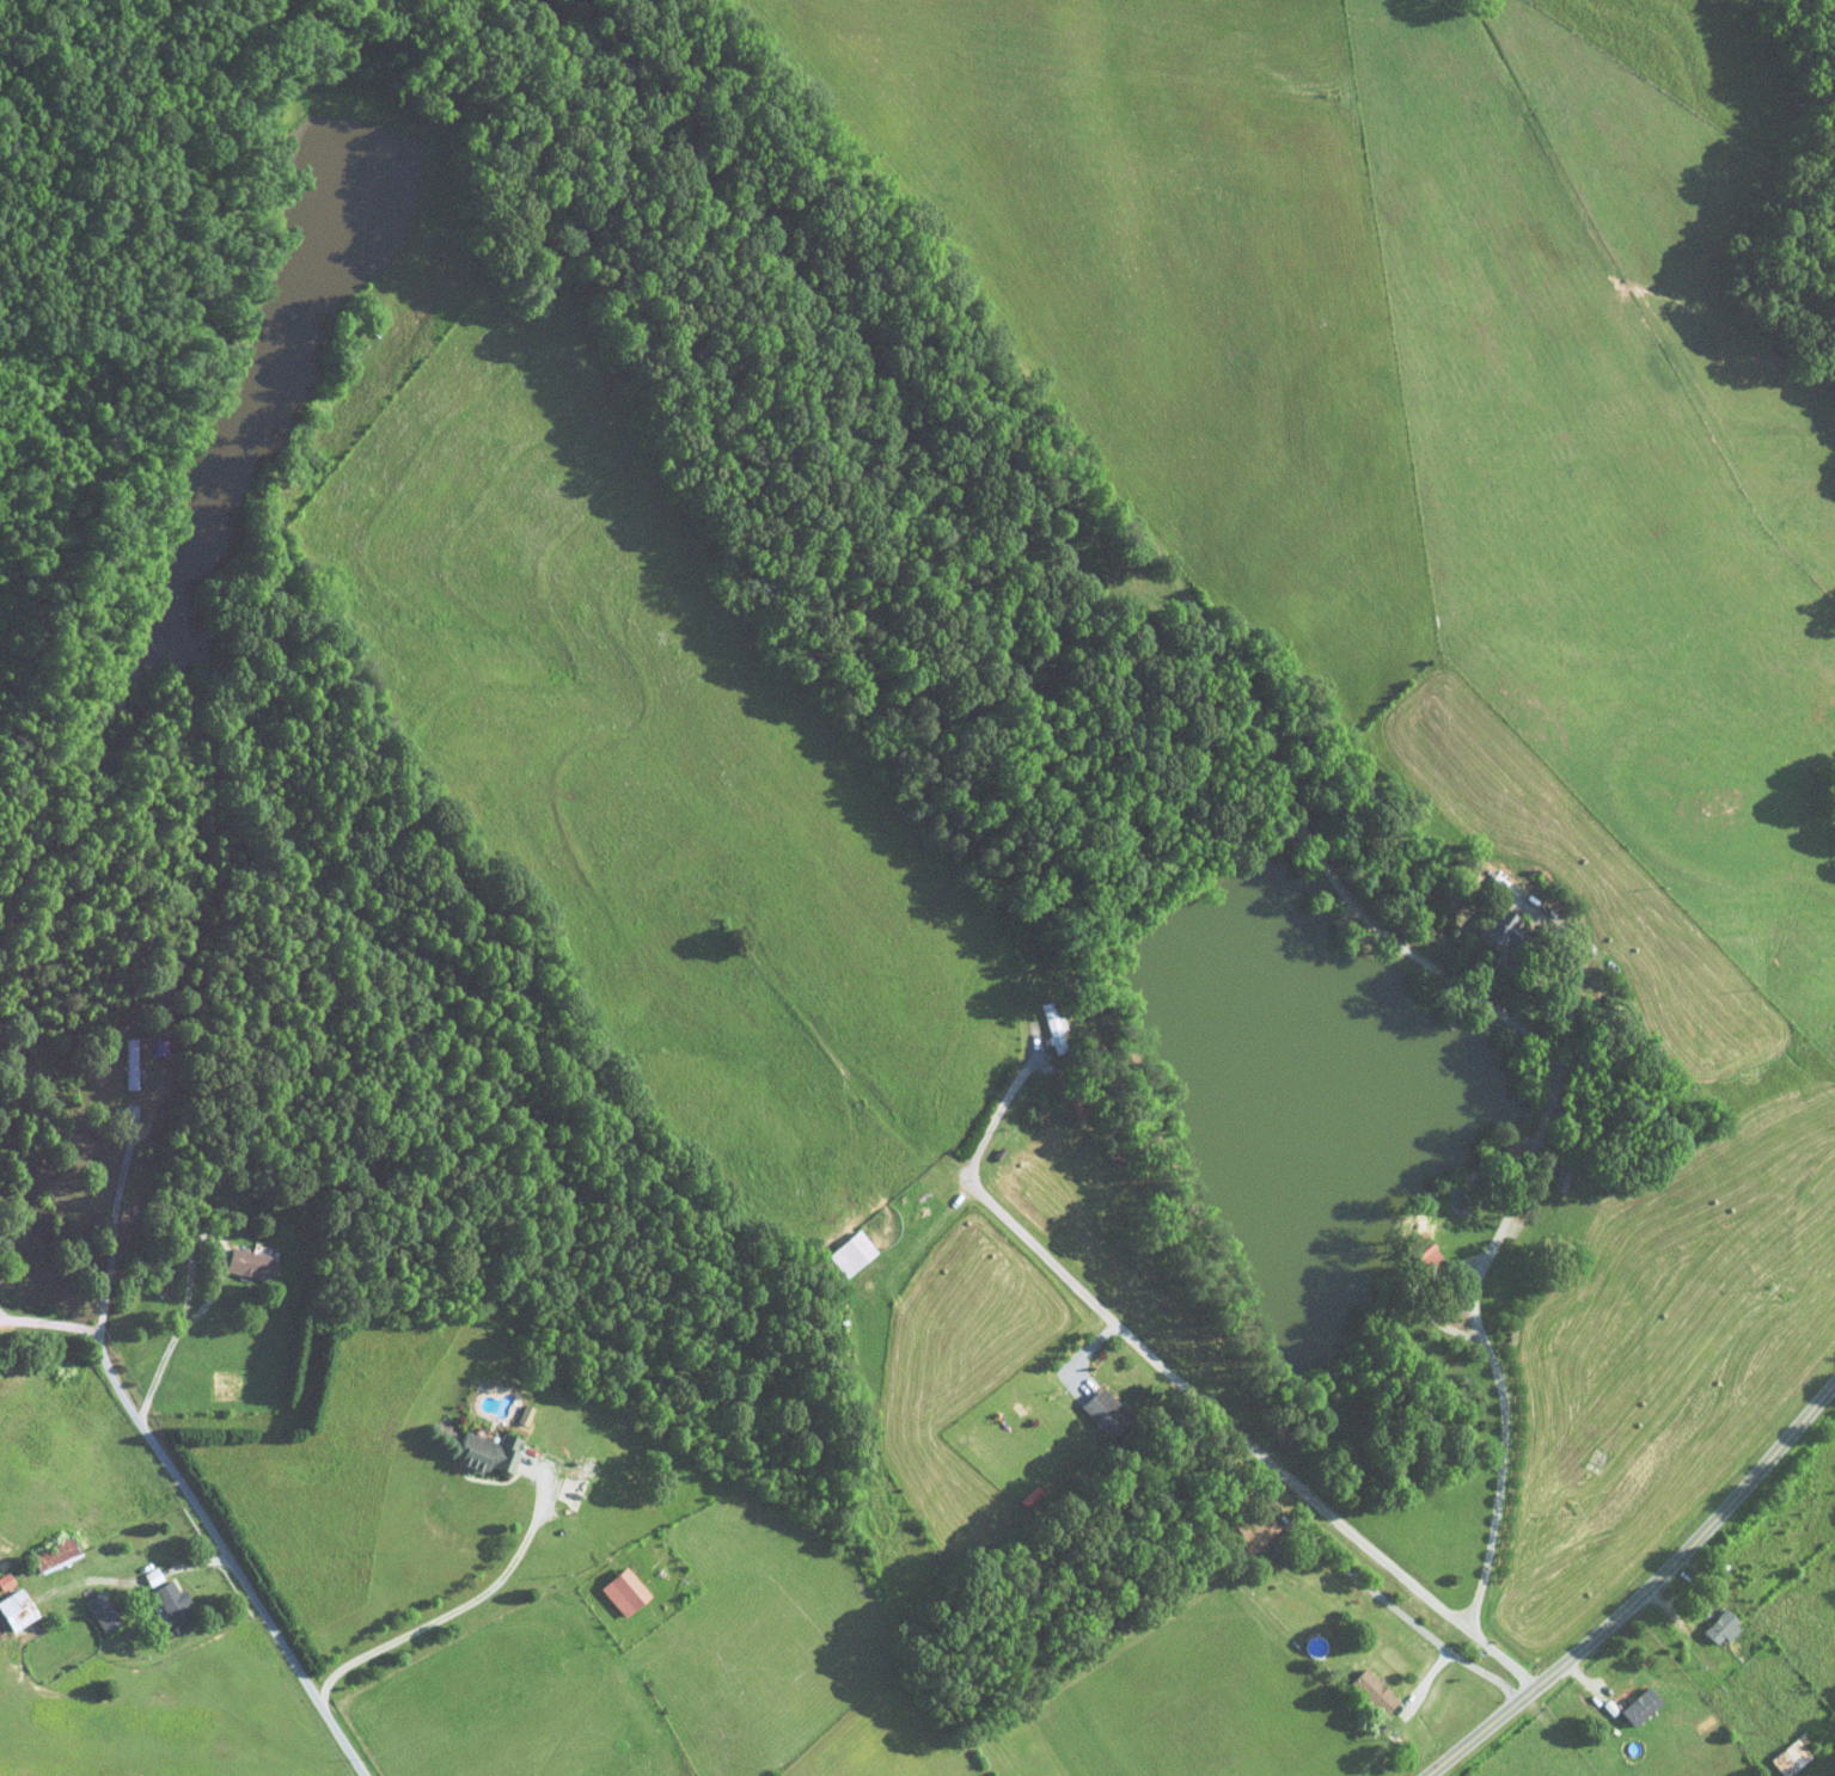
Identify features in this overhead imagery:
building: (1497, 926)
road: (1437, 967)
building: (1051, 1025)
building: (127, 1062)
road: (115, 1226)
building: (849, 1253)
building: (247, 1263)
road: (1475, 1282)
road: (196, 1306)
road: (53, 1321)
road: (105, 1357)
road: (1194, 1396)
building: (1097, 1406)
building: (484, 1452)
building: (1267, 1504)
building: (1250, 1536)
building: (50, 1554)
road: (198, 1561)
road: (237, 1574)
building: (4, 1581)
building: (620, 1591)
road: (1643, 1592)
building: (170, 1605)
road: (463, 1605)
road: (1408, 1607)
building: (14, 1609)
building: (99, 1611)
road: (1677, 1612)
building: (1719, 1627)
road: (1622, 1653)
building: (1371, 1691)
building: (1638, 1705)
building: (1788, 1756)

